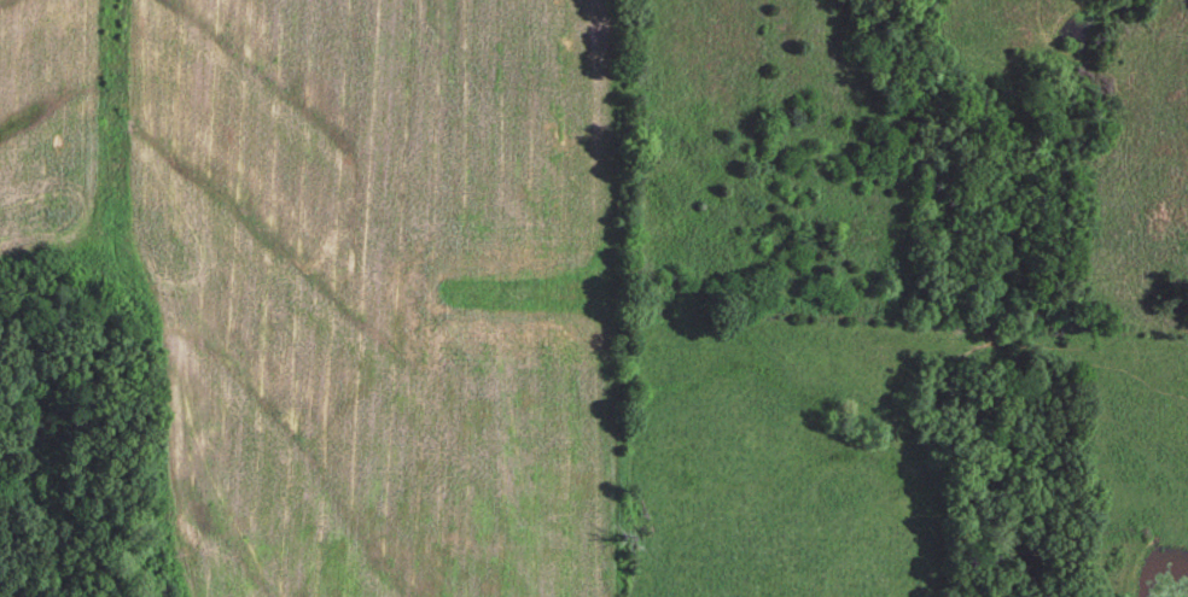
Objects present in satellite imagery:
road: (637, 11)

